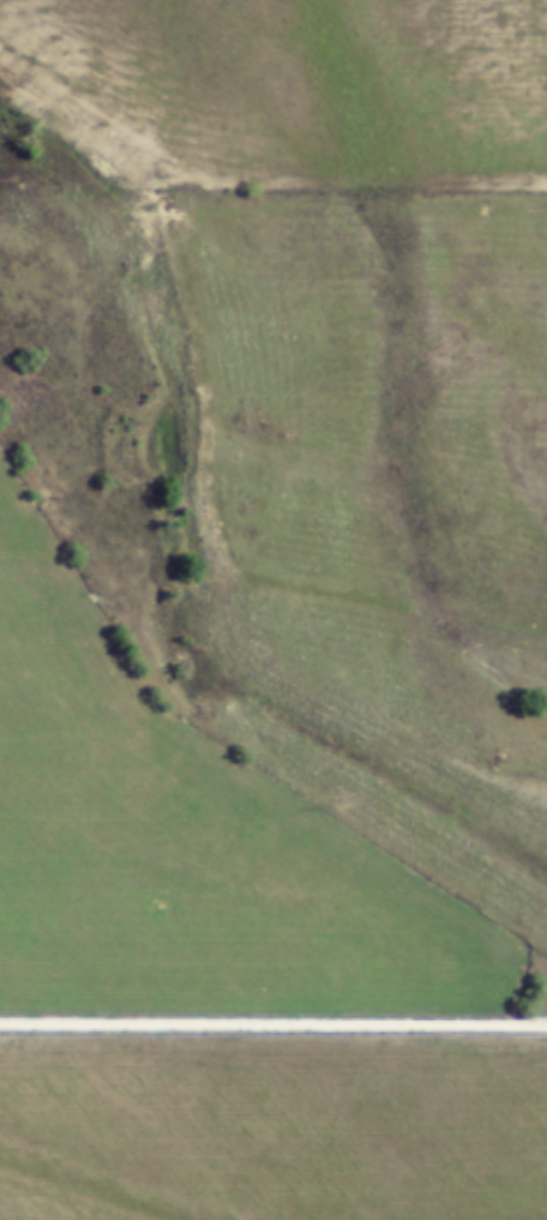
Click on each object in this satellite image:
road: (273, 1032)

